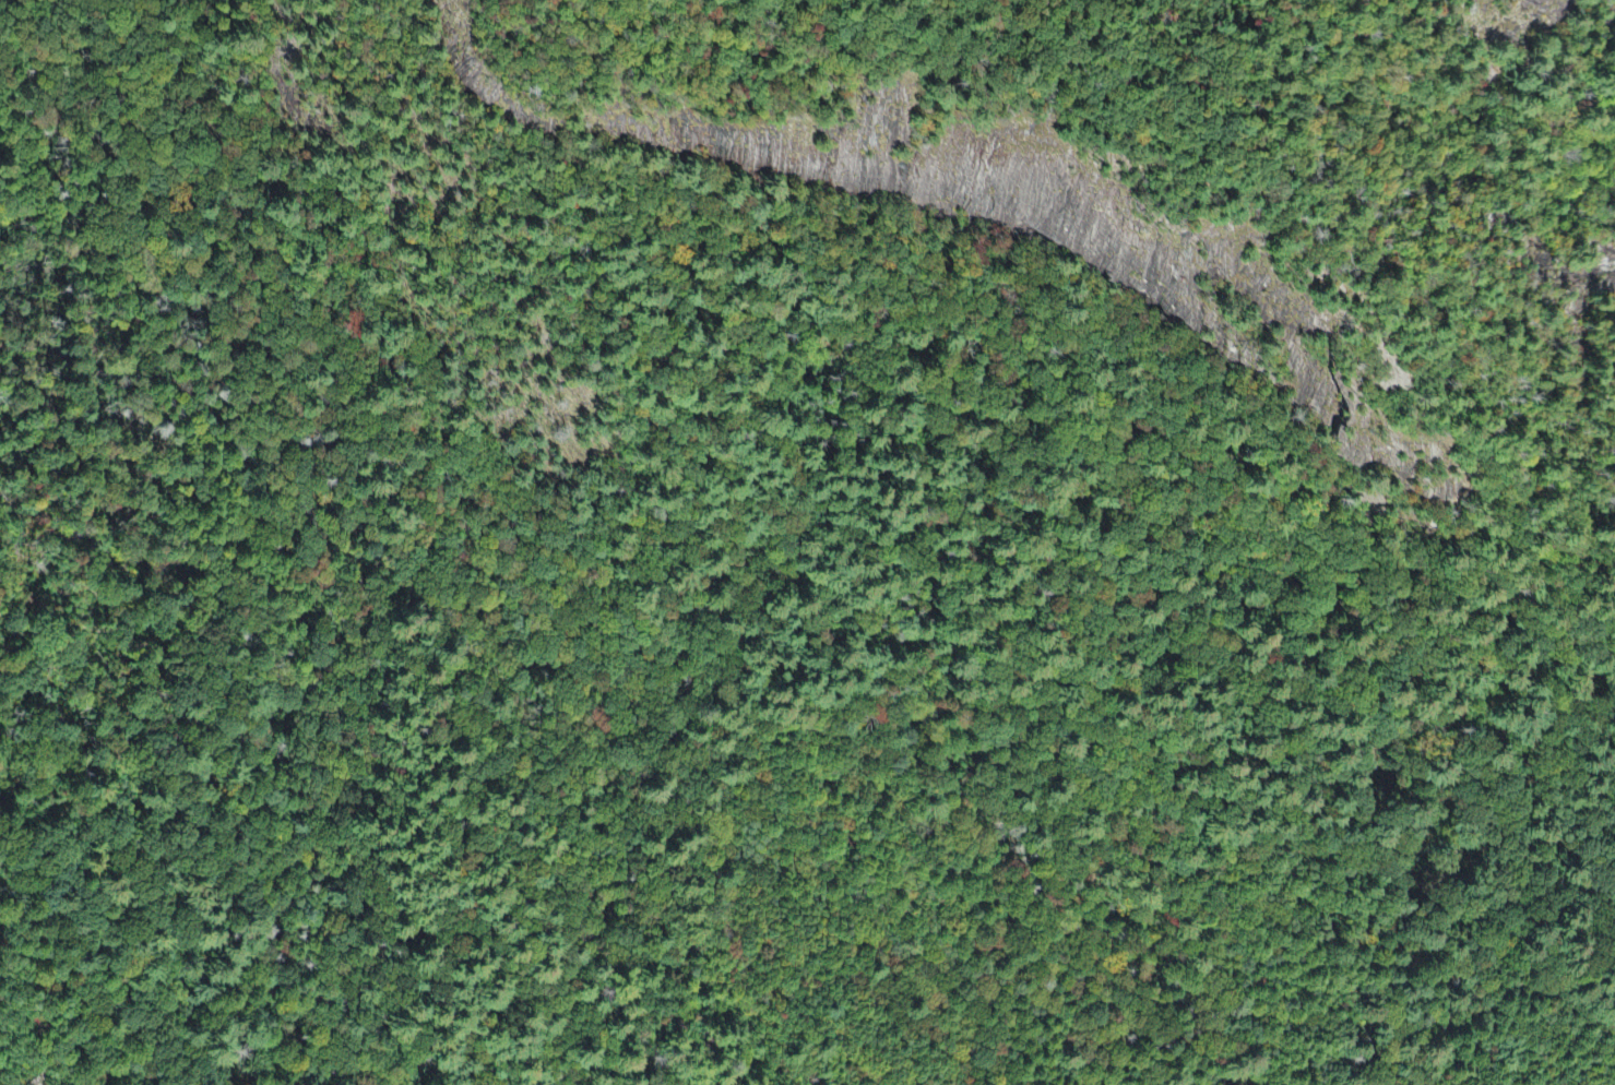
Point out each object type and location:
road: (1249, 1076)

